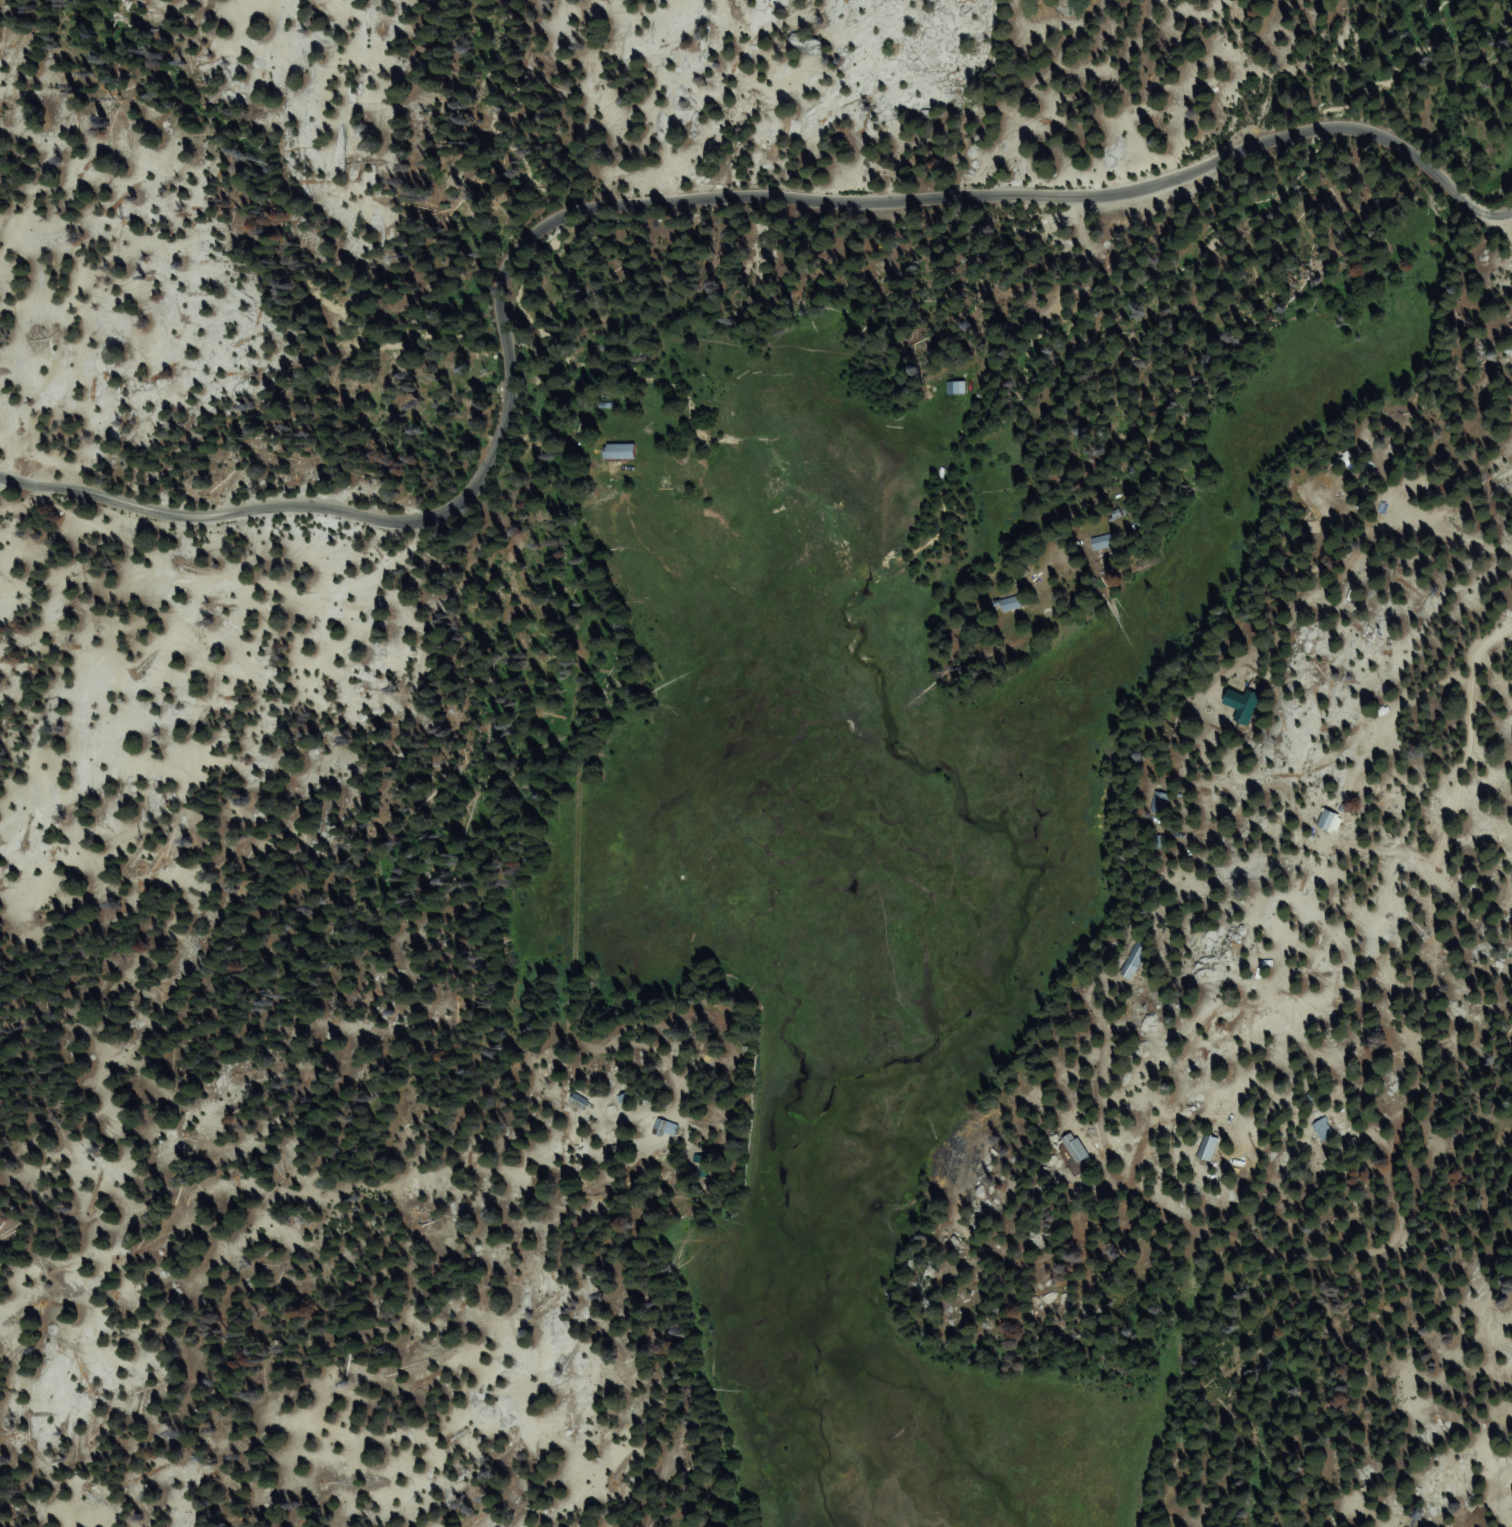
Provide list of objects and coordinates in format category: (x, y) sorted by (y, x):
road: (661, 199)
road: (1019, 366)
building: (617, 452)
road: (1369, 564)
road: (1436, 718)
road: (592, 804)
building: (1332, 820)
building: (1076, 1154)
road: (1373, 1200)
road: (1004, 1311)

